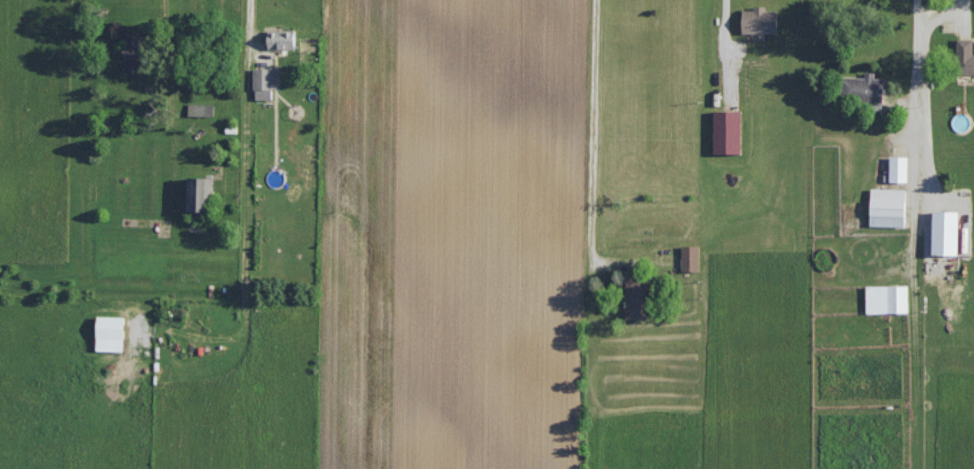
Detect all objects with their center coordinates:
road: (941, 13)
road: (725, 17)
road: (251, 19)
building: (759, 19)
building: (281, 38)
building: (133, 52)
building: (964, 55)
road: (170, 79)
building: (265, 81)
building: (863, 86)
building: (200, 108)
road: (593, 131)
building: (727, 131)
building: (899, 168)
building: (198, 193)
building: (888, 206)
building: (945, 231)
road: (919, 234)
building: (690, 257)
building: (637, 297)
building: (887, 298)
building: (109, 332)

